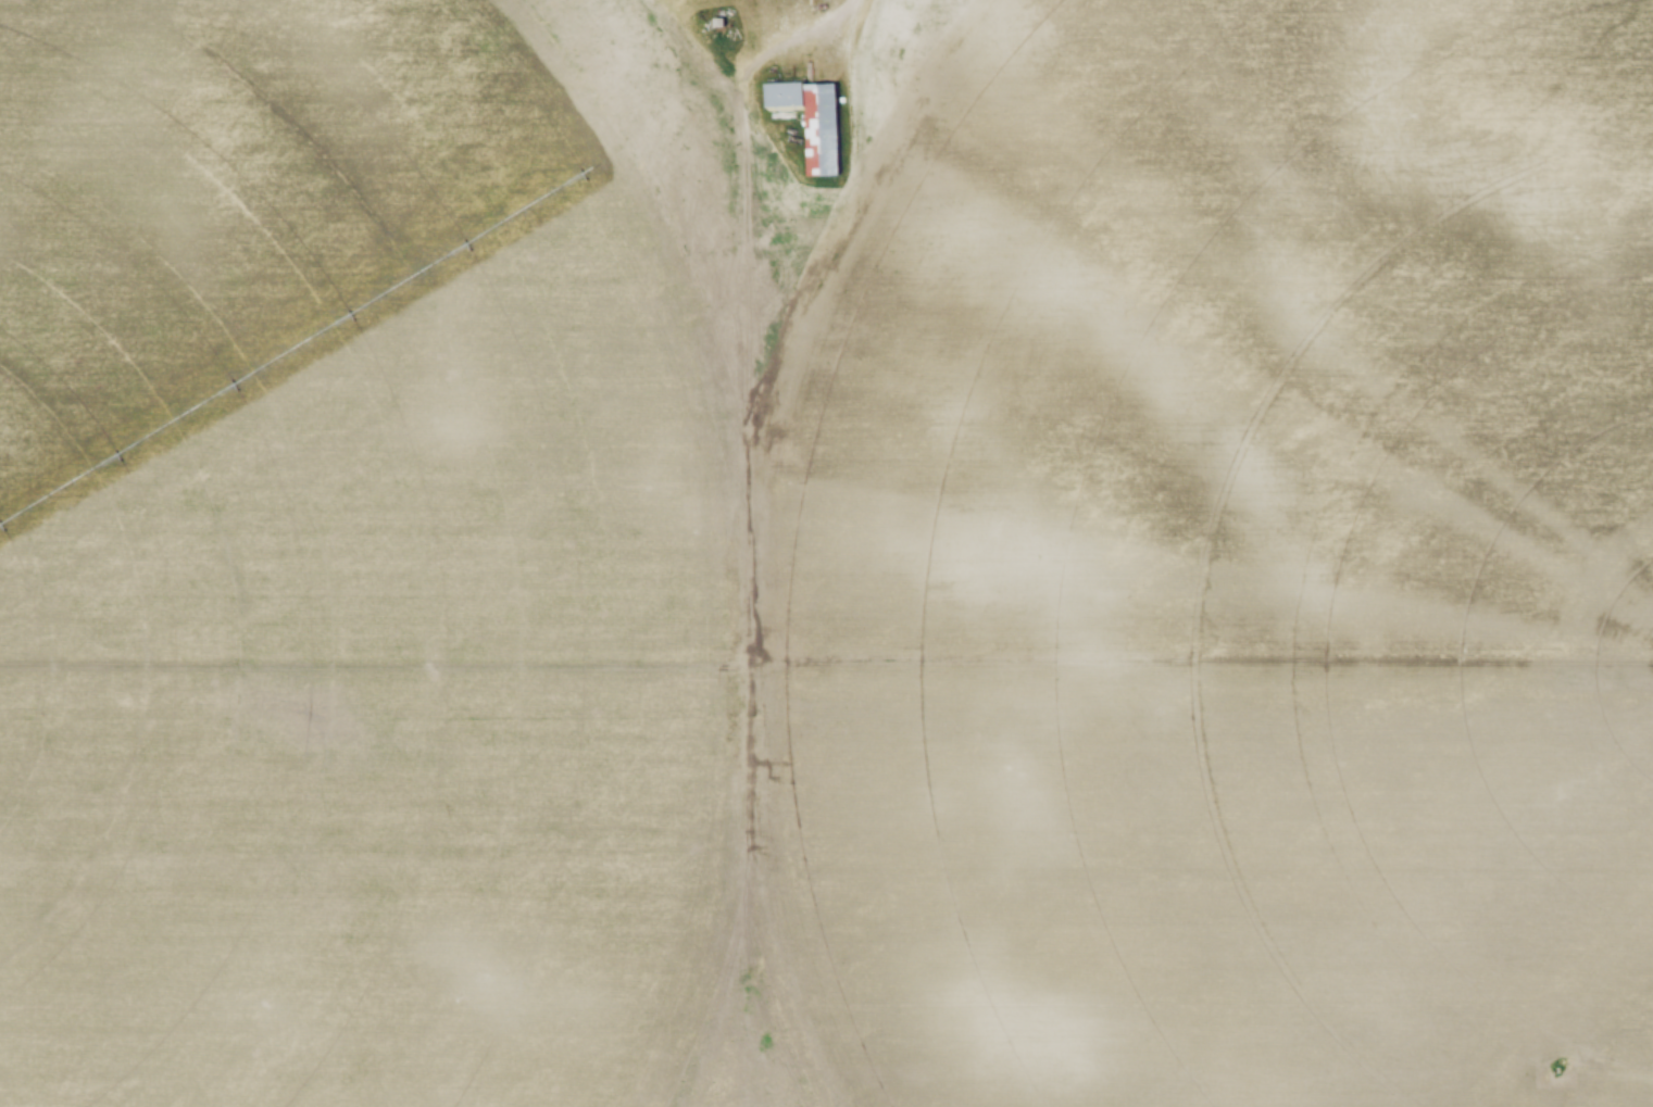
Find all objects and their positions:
road: (826, 29)
building: (813, 121)

